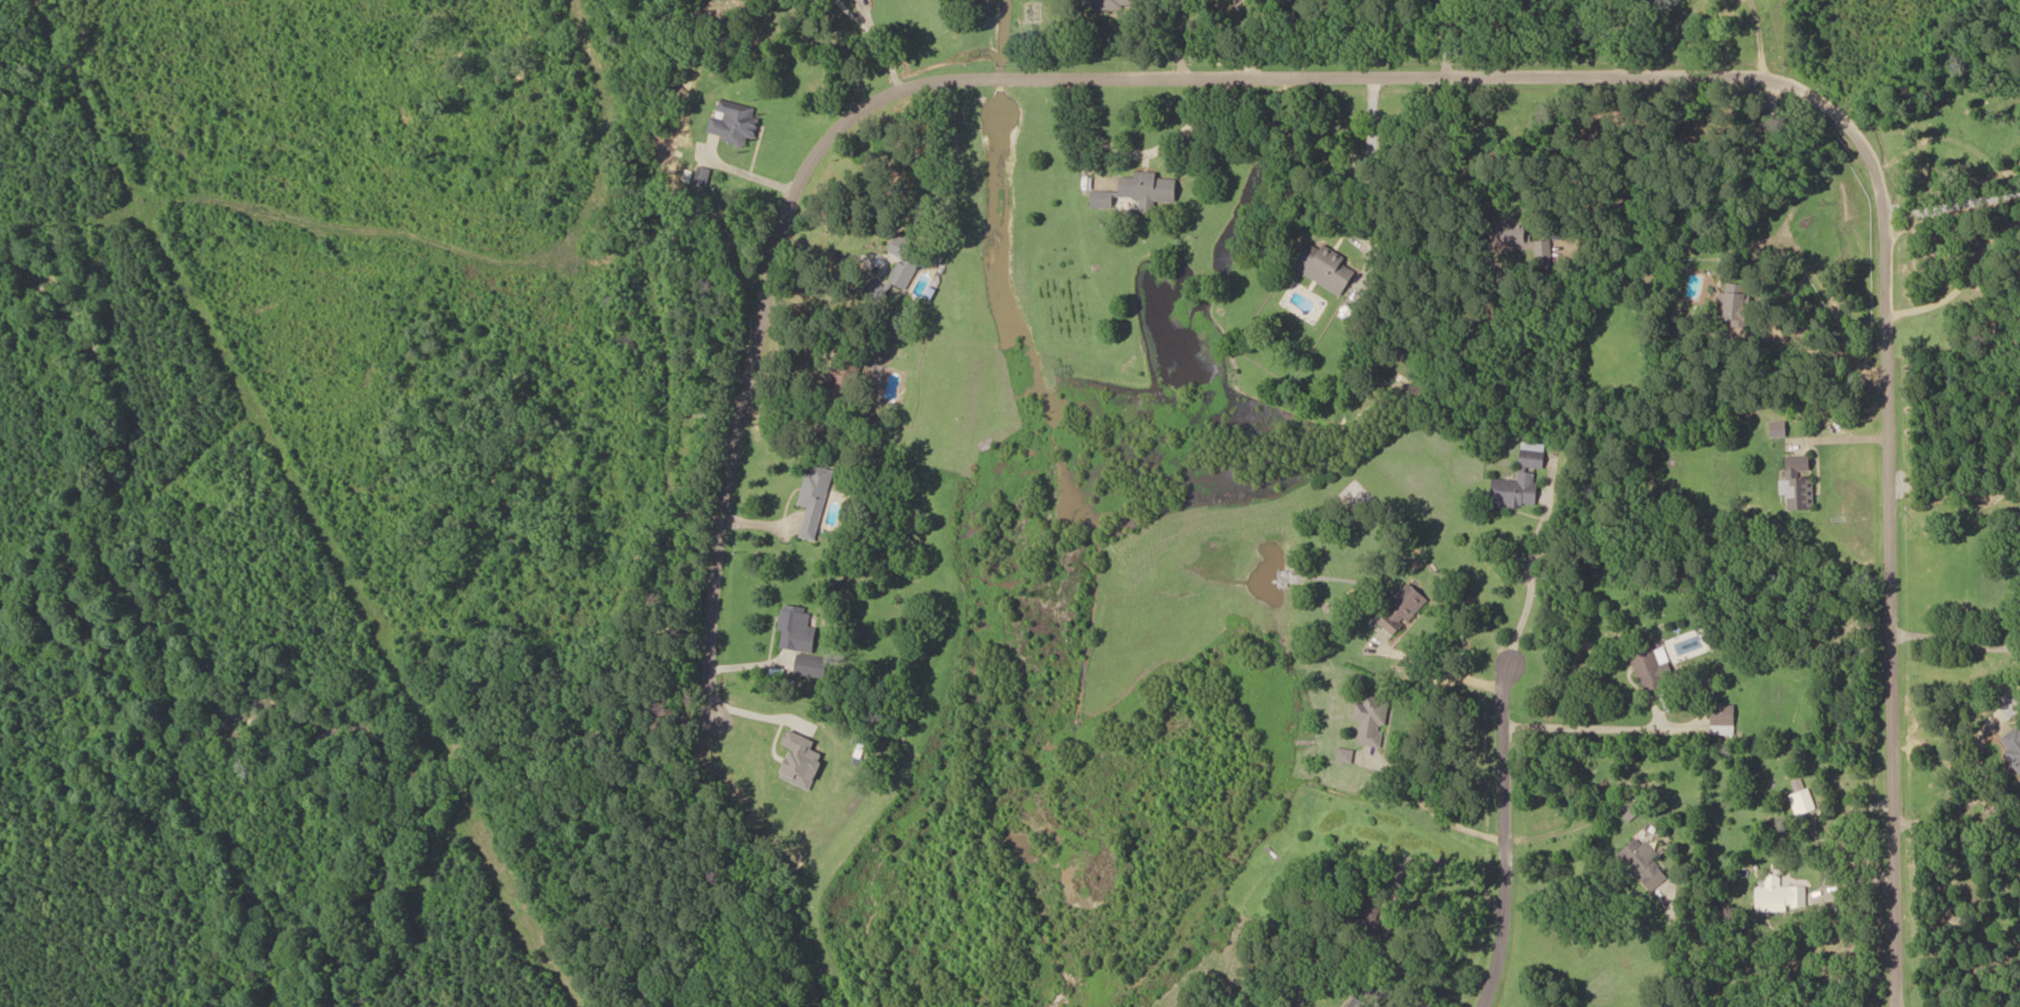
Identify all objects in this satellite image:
building: (1111, 4)
road: (1501, 82)
building: (734, 122)
building: (1139, 191)
building: (1514, 235)
building: (1544, 252)
building: (903, 264)
building: (1325, 268)
building: (1735, 308)
building: (838, 389)
building: (1533, 459)
building: (1799, 483)
building: (1516, 490)
building: (815, 499)
building: (1403, 610)
building: (797, 630)
building: (812, 666)
building: (1652, 669)
building: (1723, 719)
building: (1372, 720)
road: (1596, 727)
building: (2013, 745)
building: (1346, 755)
building: (1803, 802)
building: (1634, 811)
road: (1511, 843)
building: (1644, 864)
building: (1781, 896)
building: (1370, 918)

